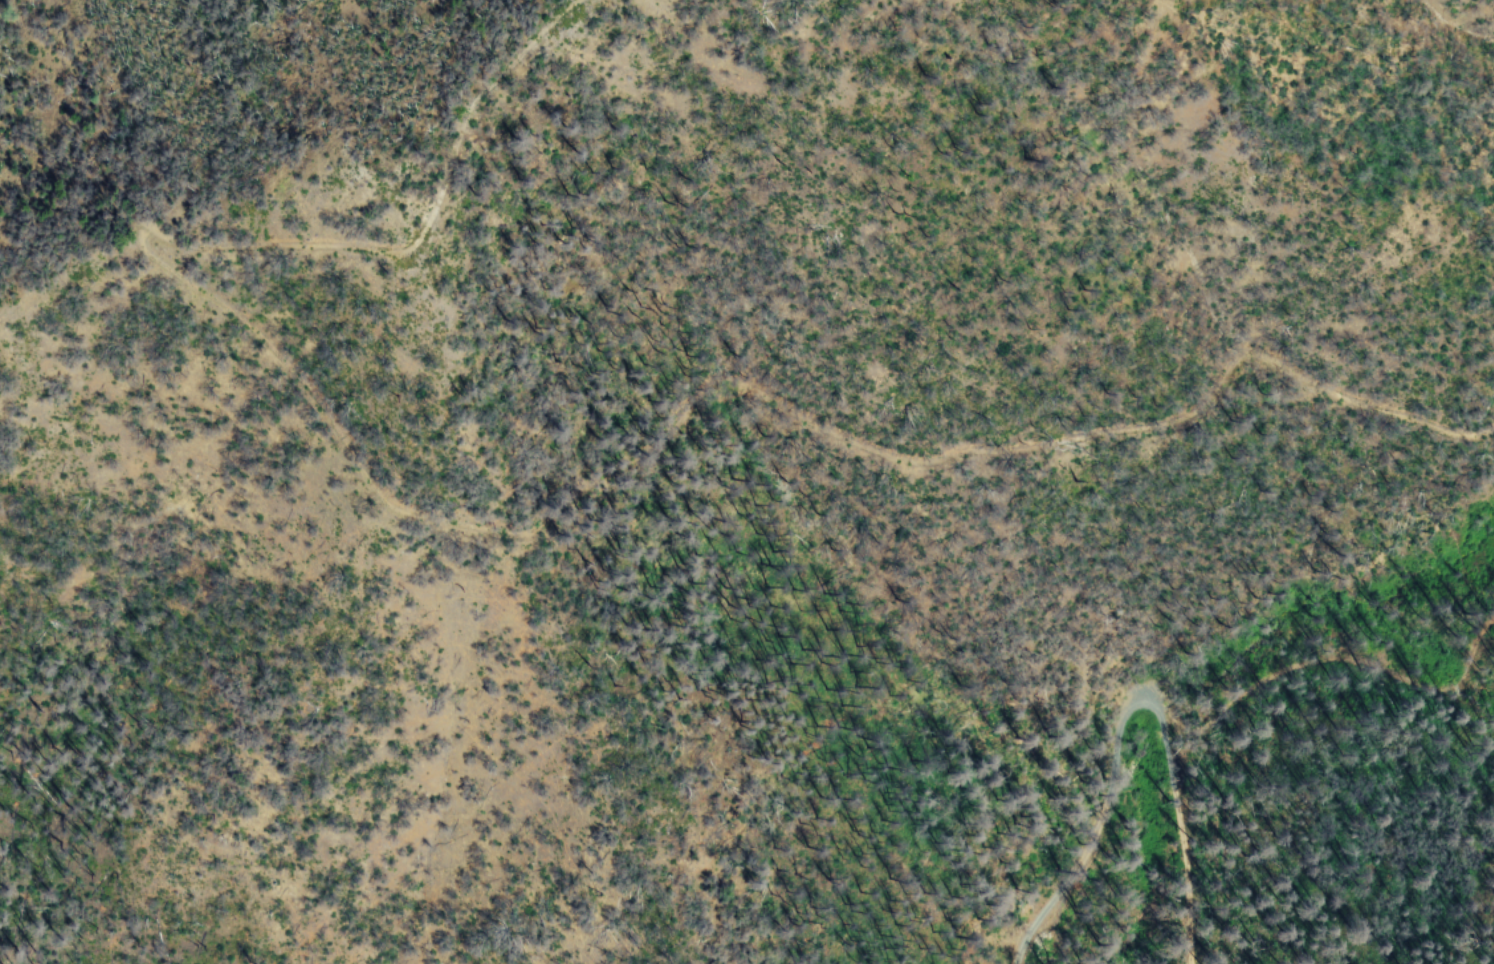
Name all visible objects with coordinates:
road: (1144, 796)

